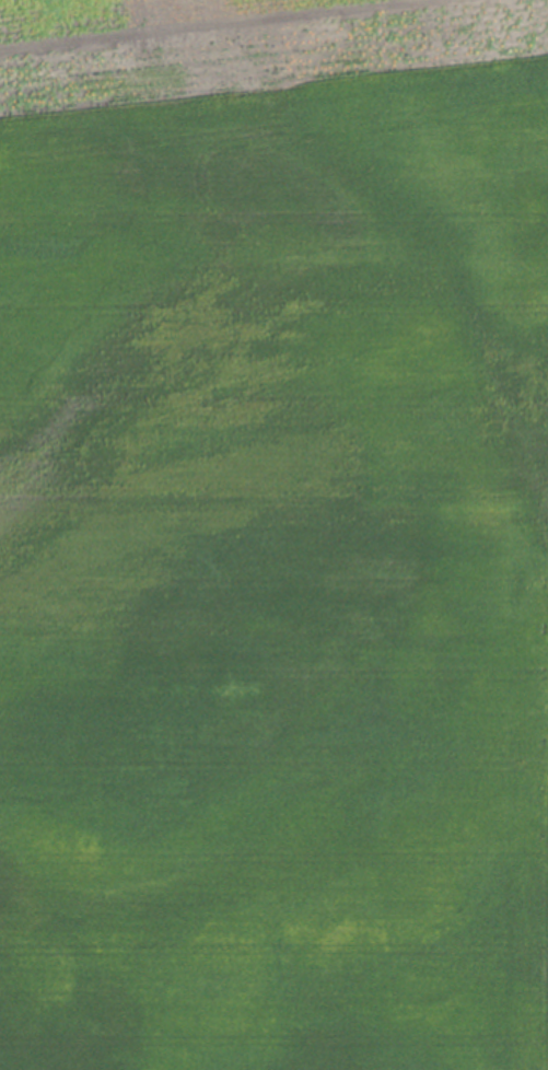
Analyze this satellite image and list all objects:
crop: (273, 535)

